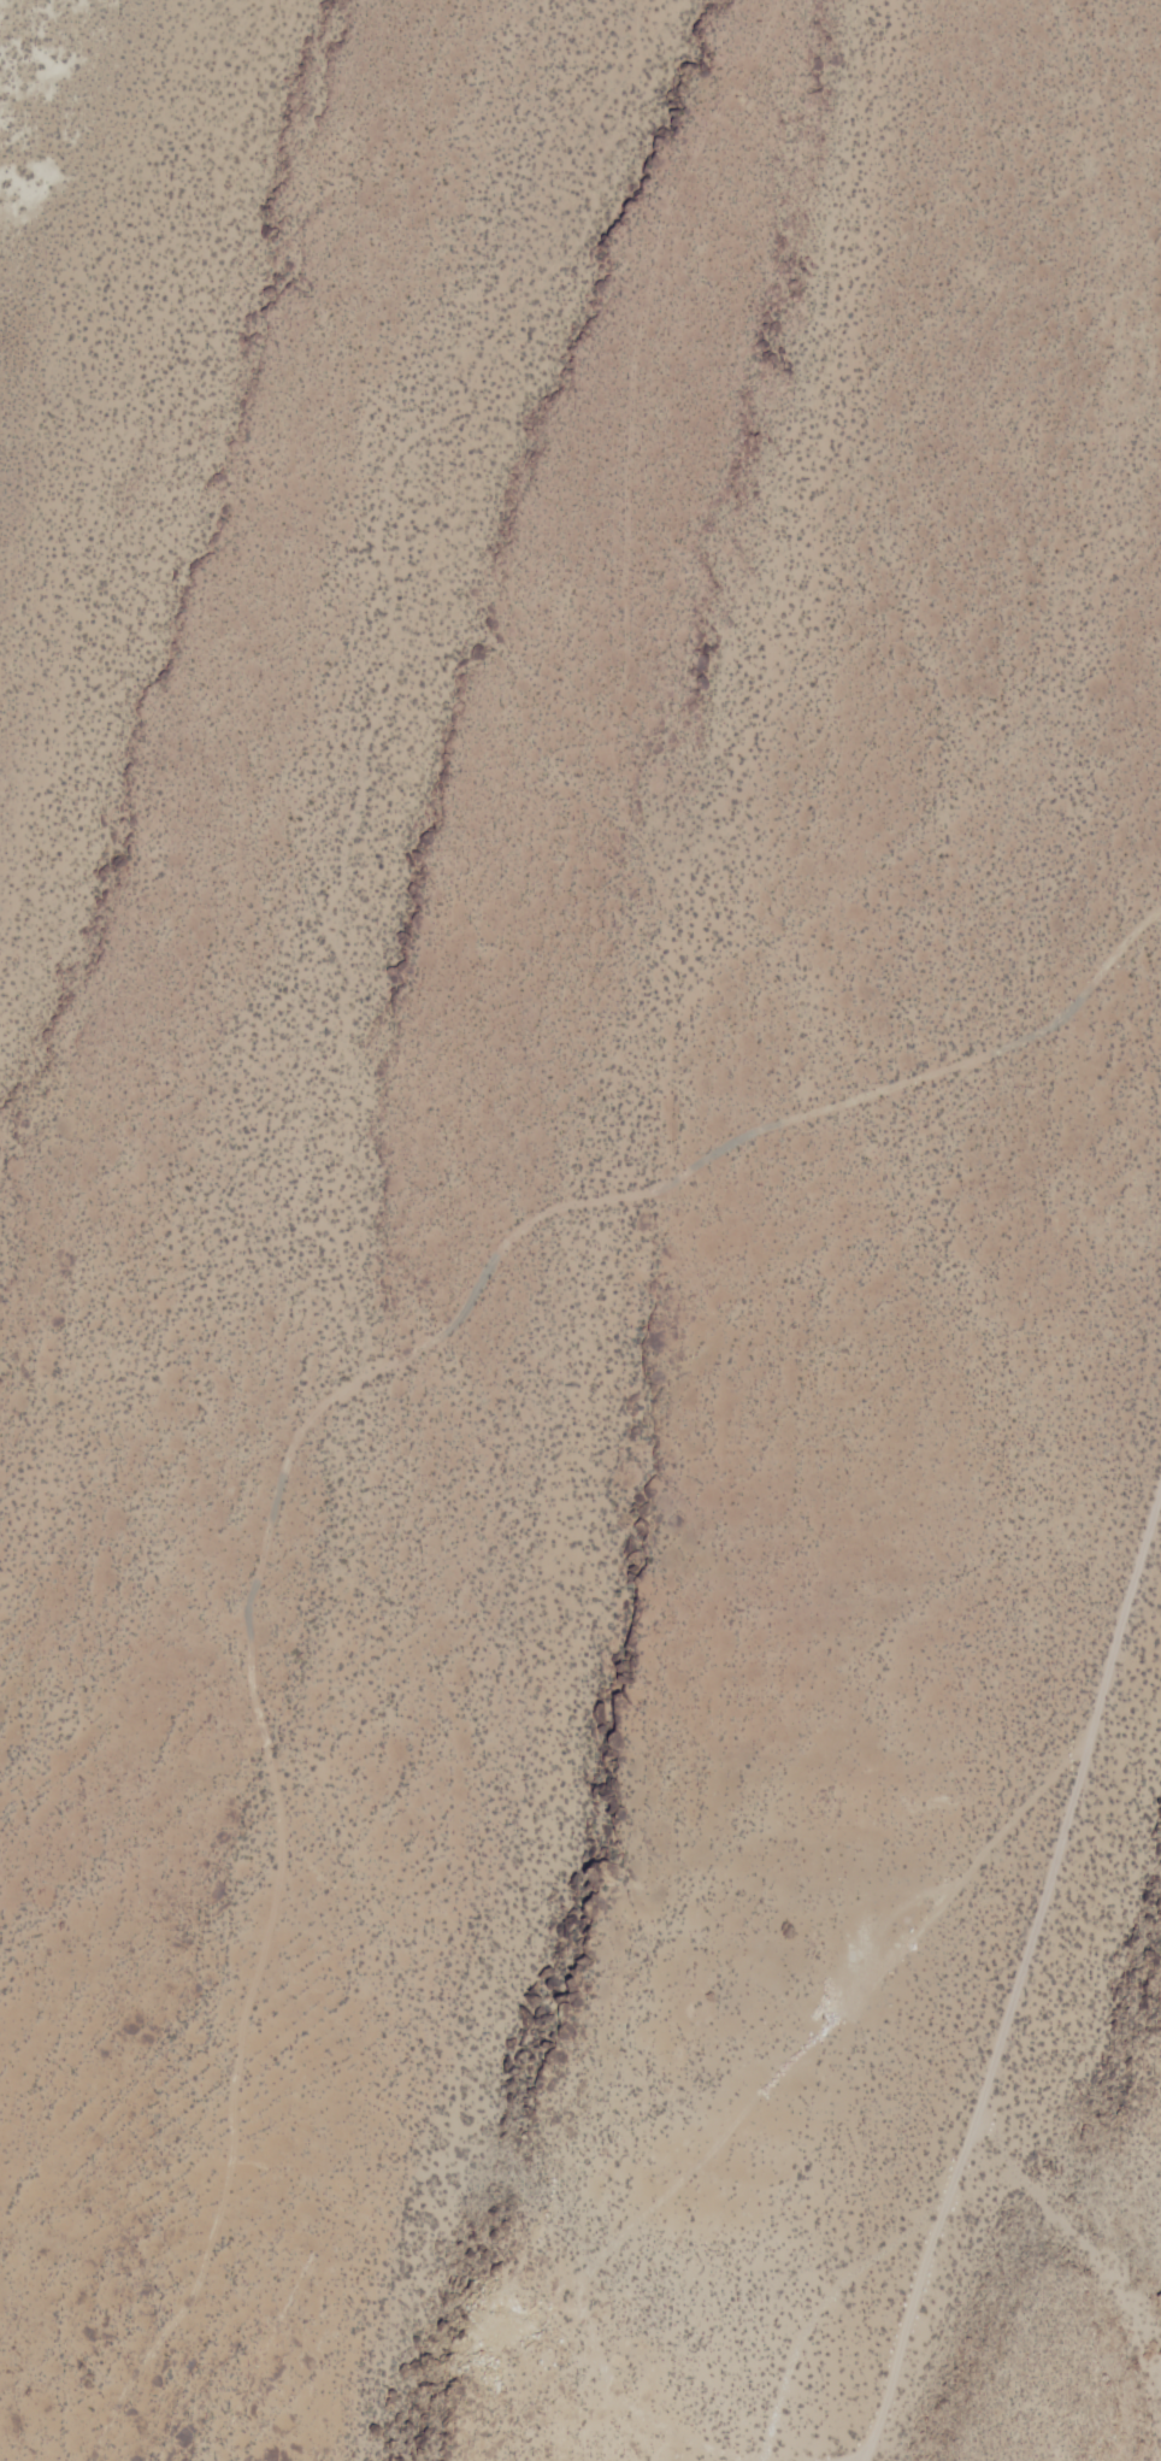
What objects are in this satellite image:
road: (289, 1447)
road: (1016, 1971)
road: (745, 2109)
road: (817, 2307)
road: (856, 2457)

